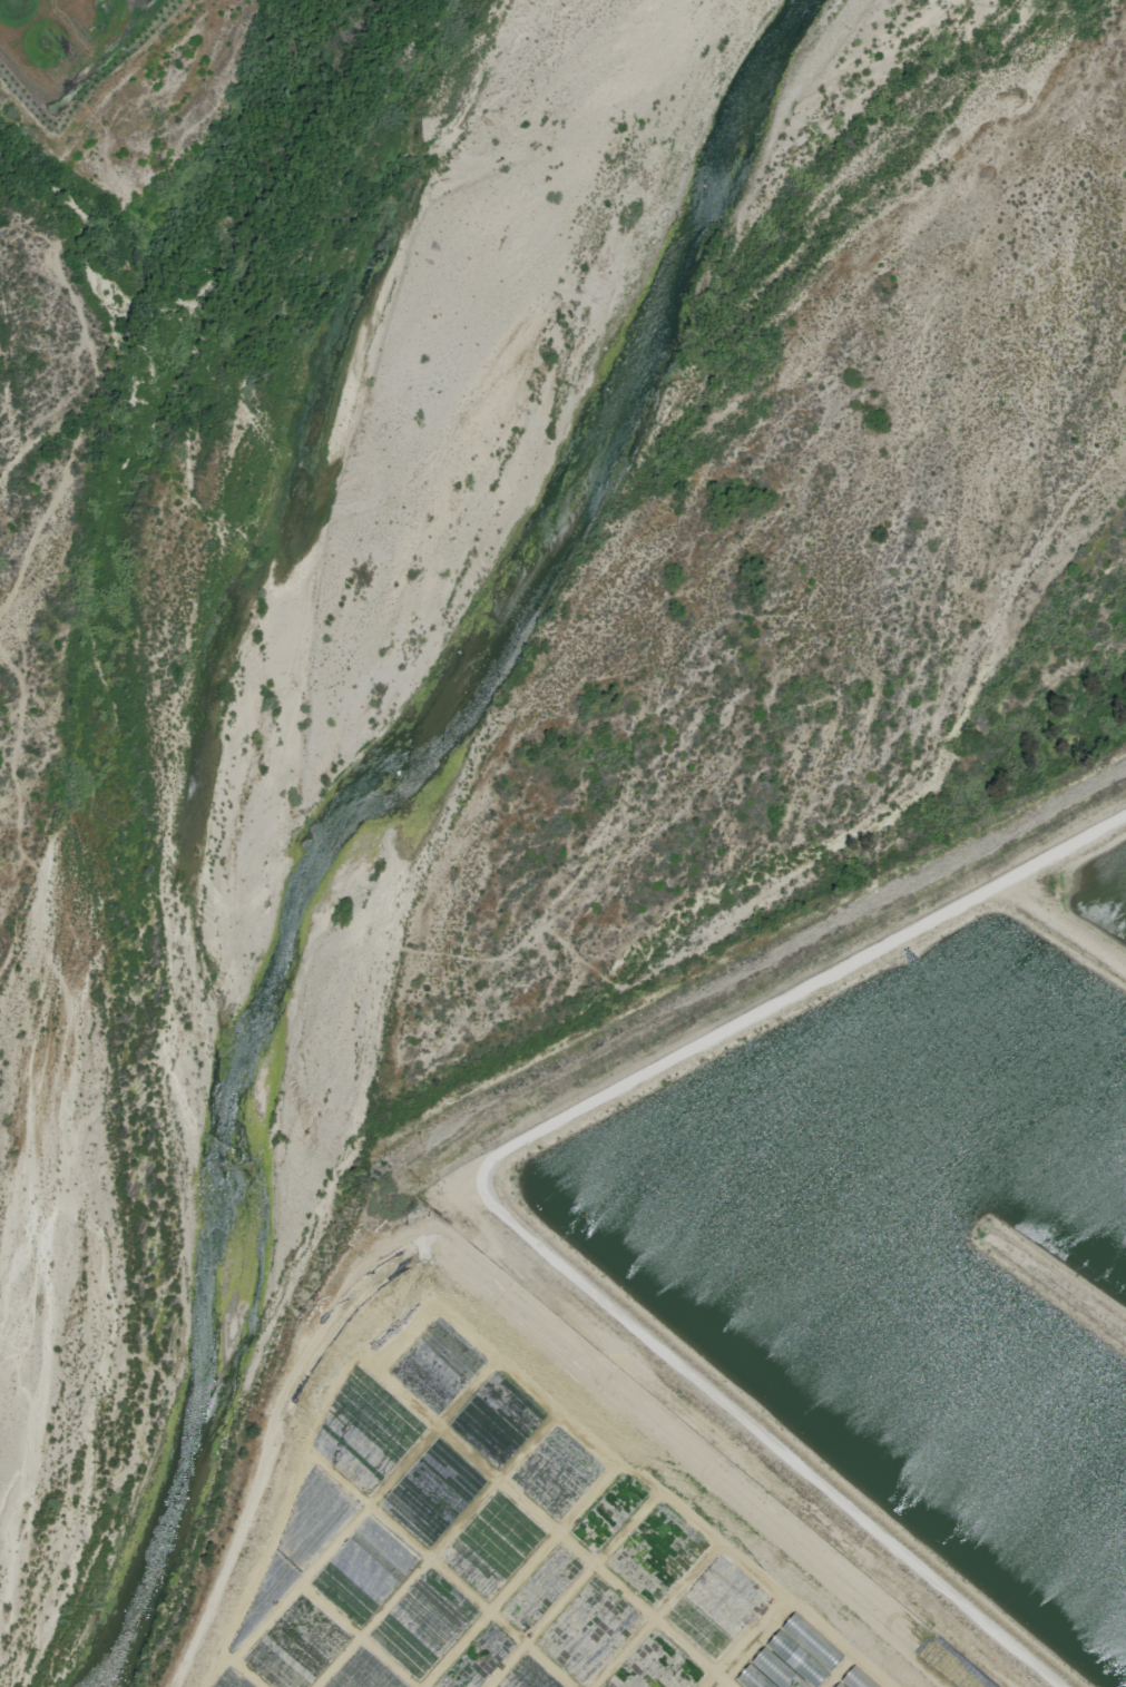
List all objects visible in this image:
road: (458, 1285)
road: (658, 1609)
road: (695, 1650)
building: (775, 1669)
building: (752, 1677)
building: (856, 1678)
building: (838, 1685)

